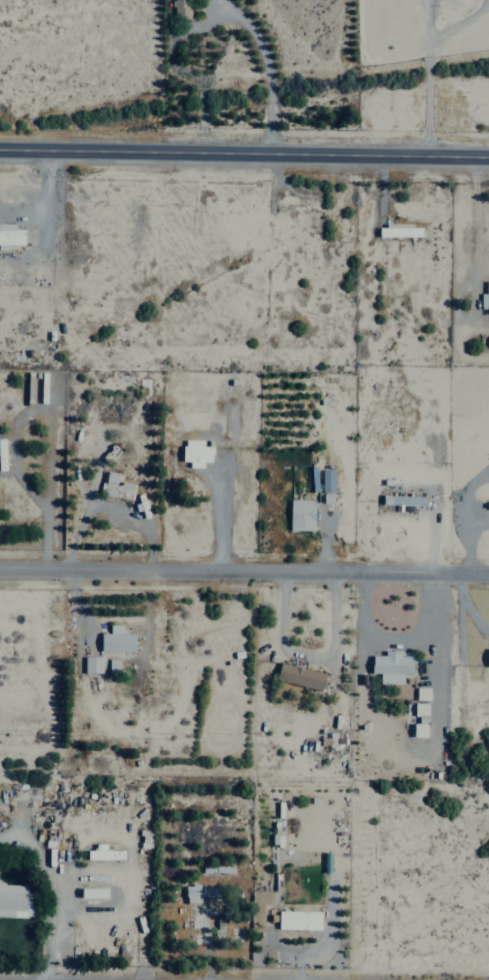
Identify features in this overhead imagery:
building: (181, 9)
road: (244, 151)
building: (399, 232)
building: (484, 297)
building: (195, 453)
building: (2, 455)
building: (327, 481)
building: (116, 487)
building: (407, 500)
building: (301, 515)
road: (244, 565)
building: (116, 640)
building: (487, 657)
building: (92, 664)
building: (112, 666)
building: (390, 667)
building: (299, 676)
building: (422, 694)
building: (419, 730)
building: (103, 853)
building: (15, 901)
building: (198, 905)
building: (298, 920)

